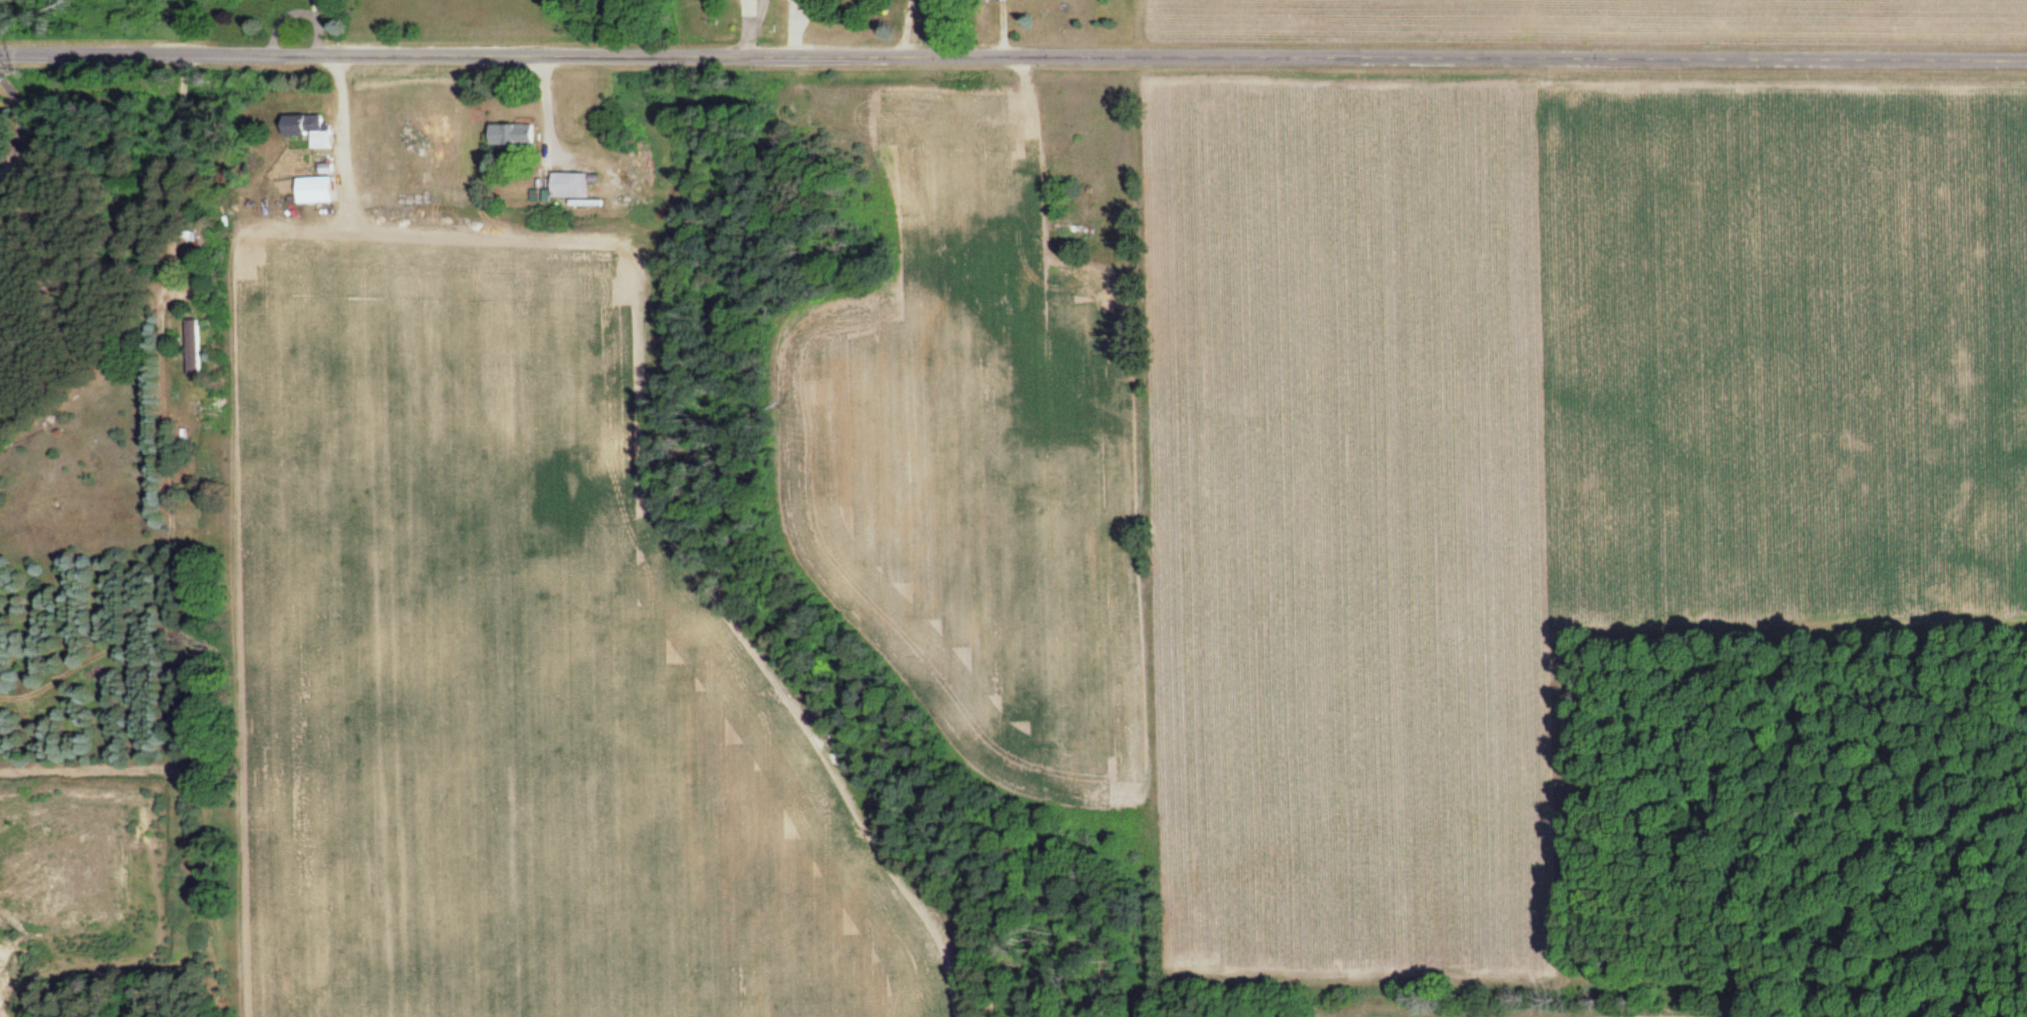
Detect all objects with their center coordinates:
road: (1013, 57)
building: (305, 129)
building: (511, 135)
building: (567, 186)
building: (314, 191)
building: (1063, 227)
building: (193, 352)

